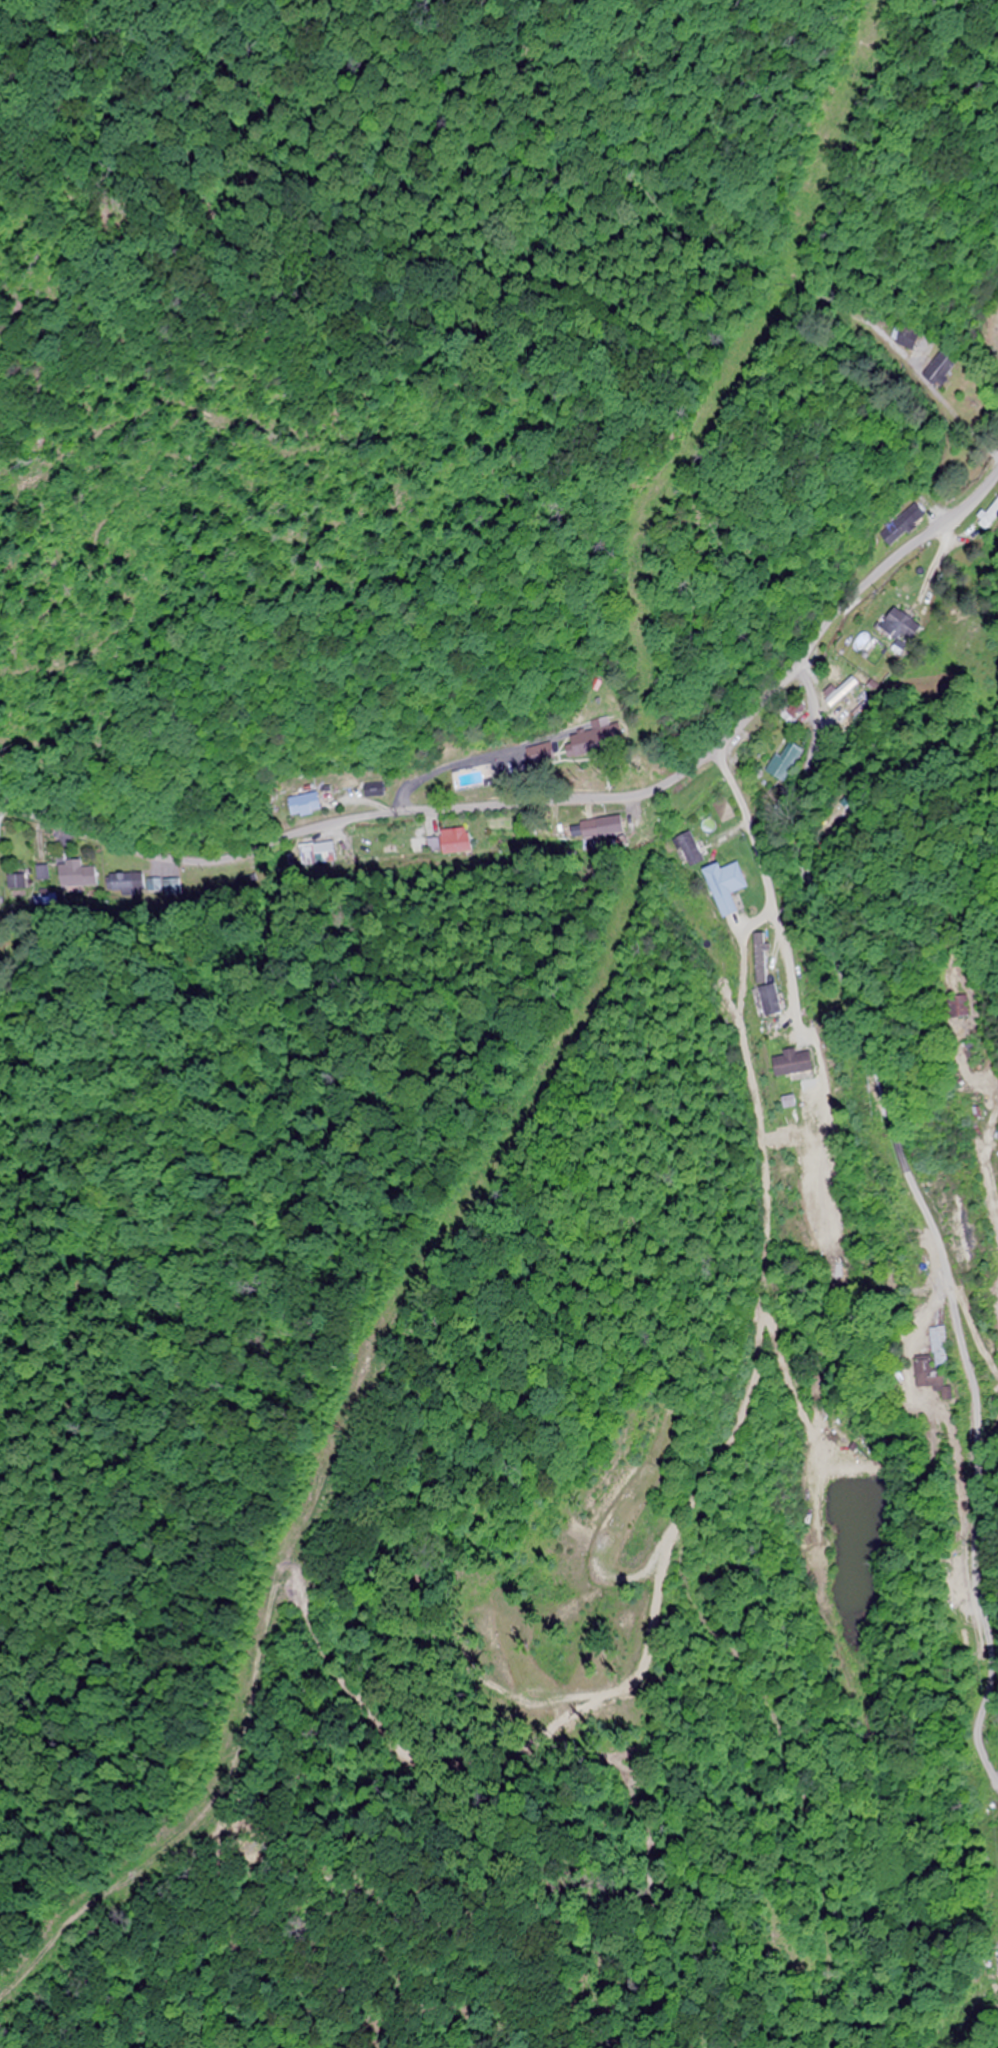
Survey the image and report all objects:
road: (898, 557)
building: (899, 627)
building: (791, 714)
building: (591, 742)
building: (548, 755)
building: (785, 763)
building: (503, 764)
building: (379, 791)
building: (307, 805)
road: (413, 805)
building: (563, 825)
building: (609, 828)
building: (453, 841)
road: (754, 846)
building: (45, 875)
building: (18, 885)
building: (720, 887)
building: (768, 1001)
building: (957, 1008)
building: (793, 1062)
road: (931, 1216)
building: (814, 1217)
building: (935, 1362)

